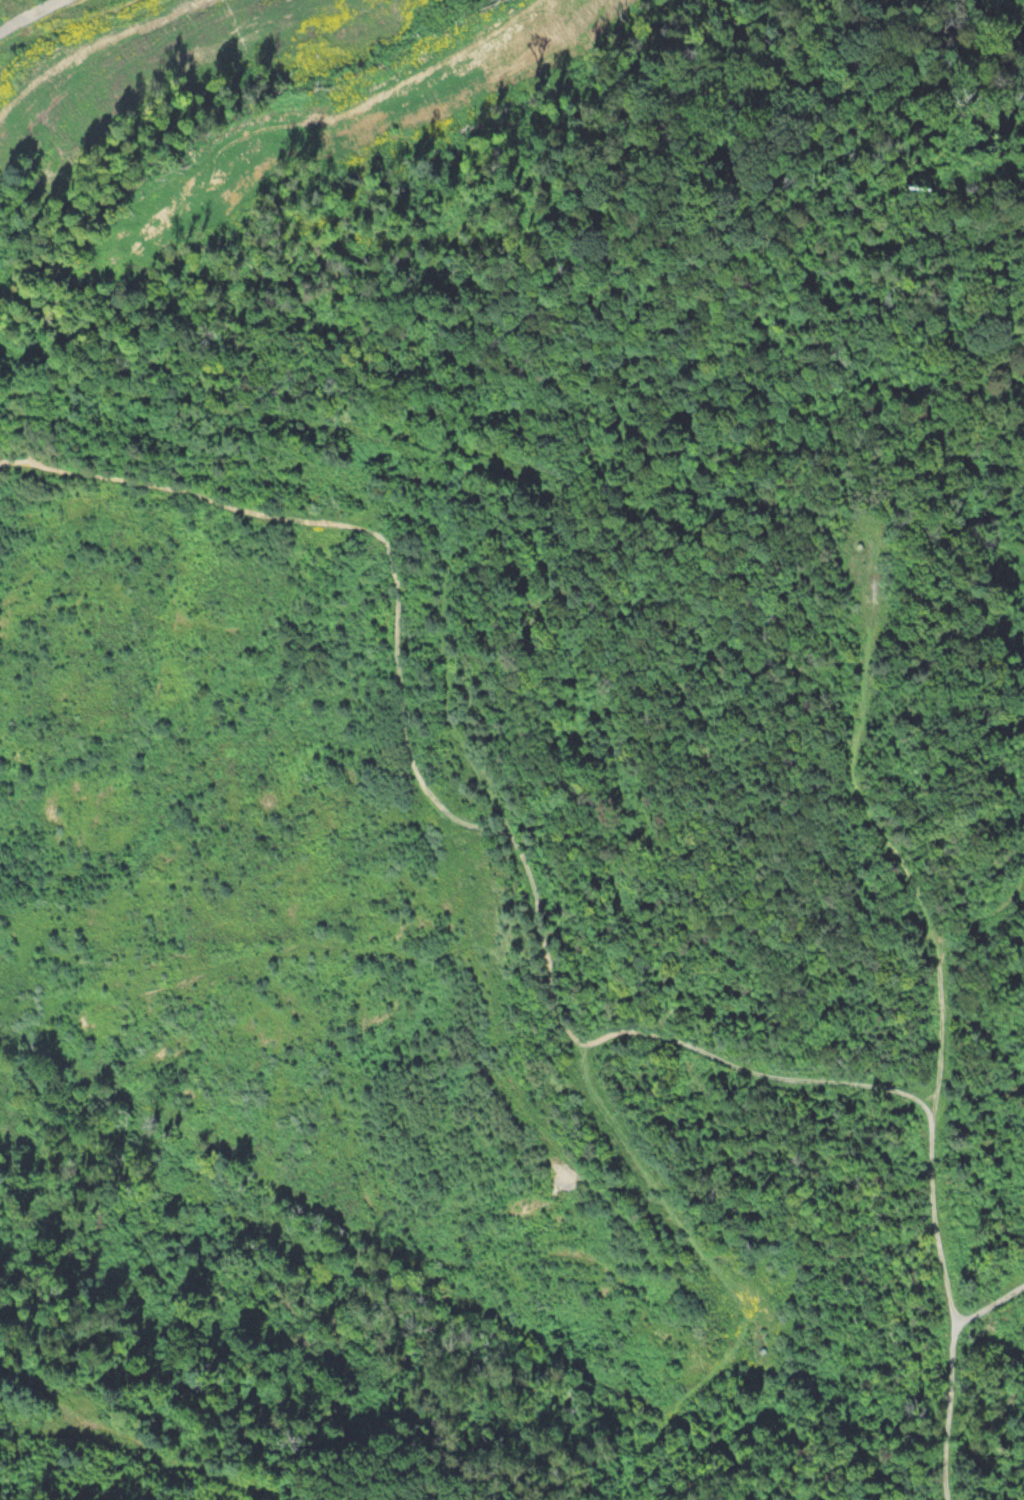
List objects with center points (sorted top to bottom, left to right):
road: (3, 10)
road: (542, 919)
road: (990, 1304)
road: (948, 1498)

